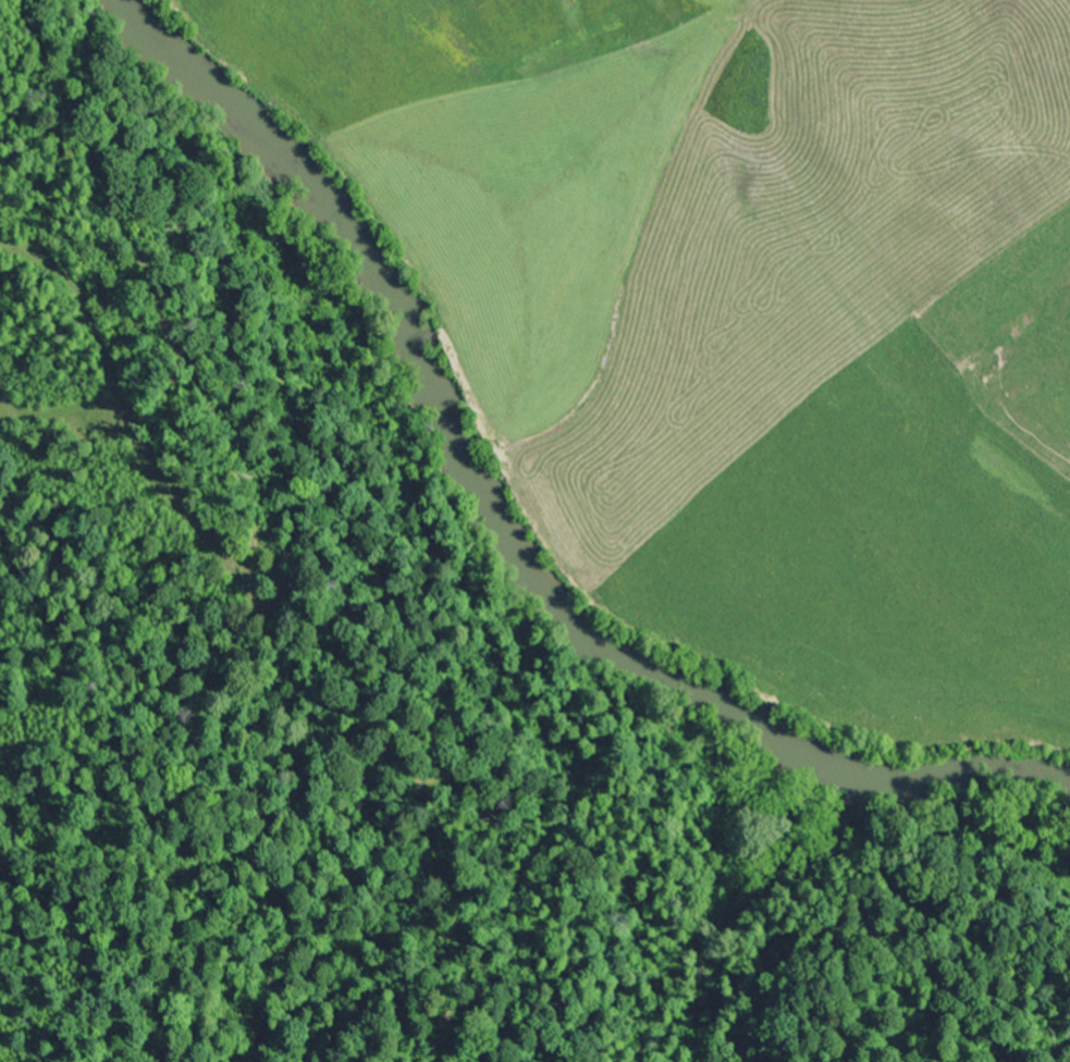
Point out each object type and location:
river: (513, 521)

